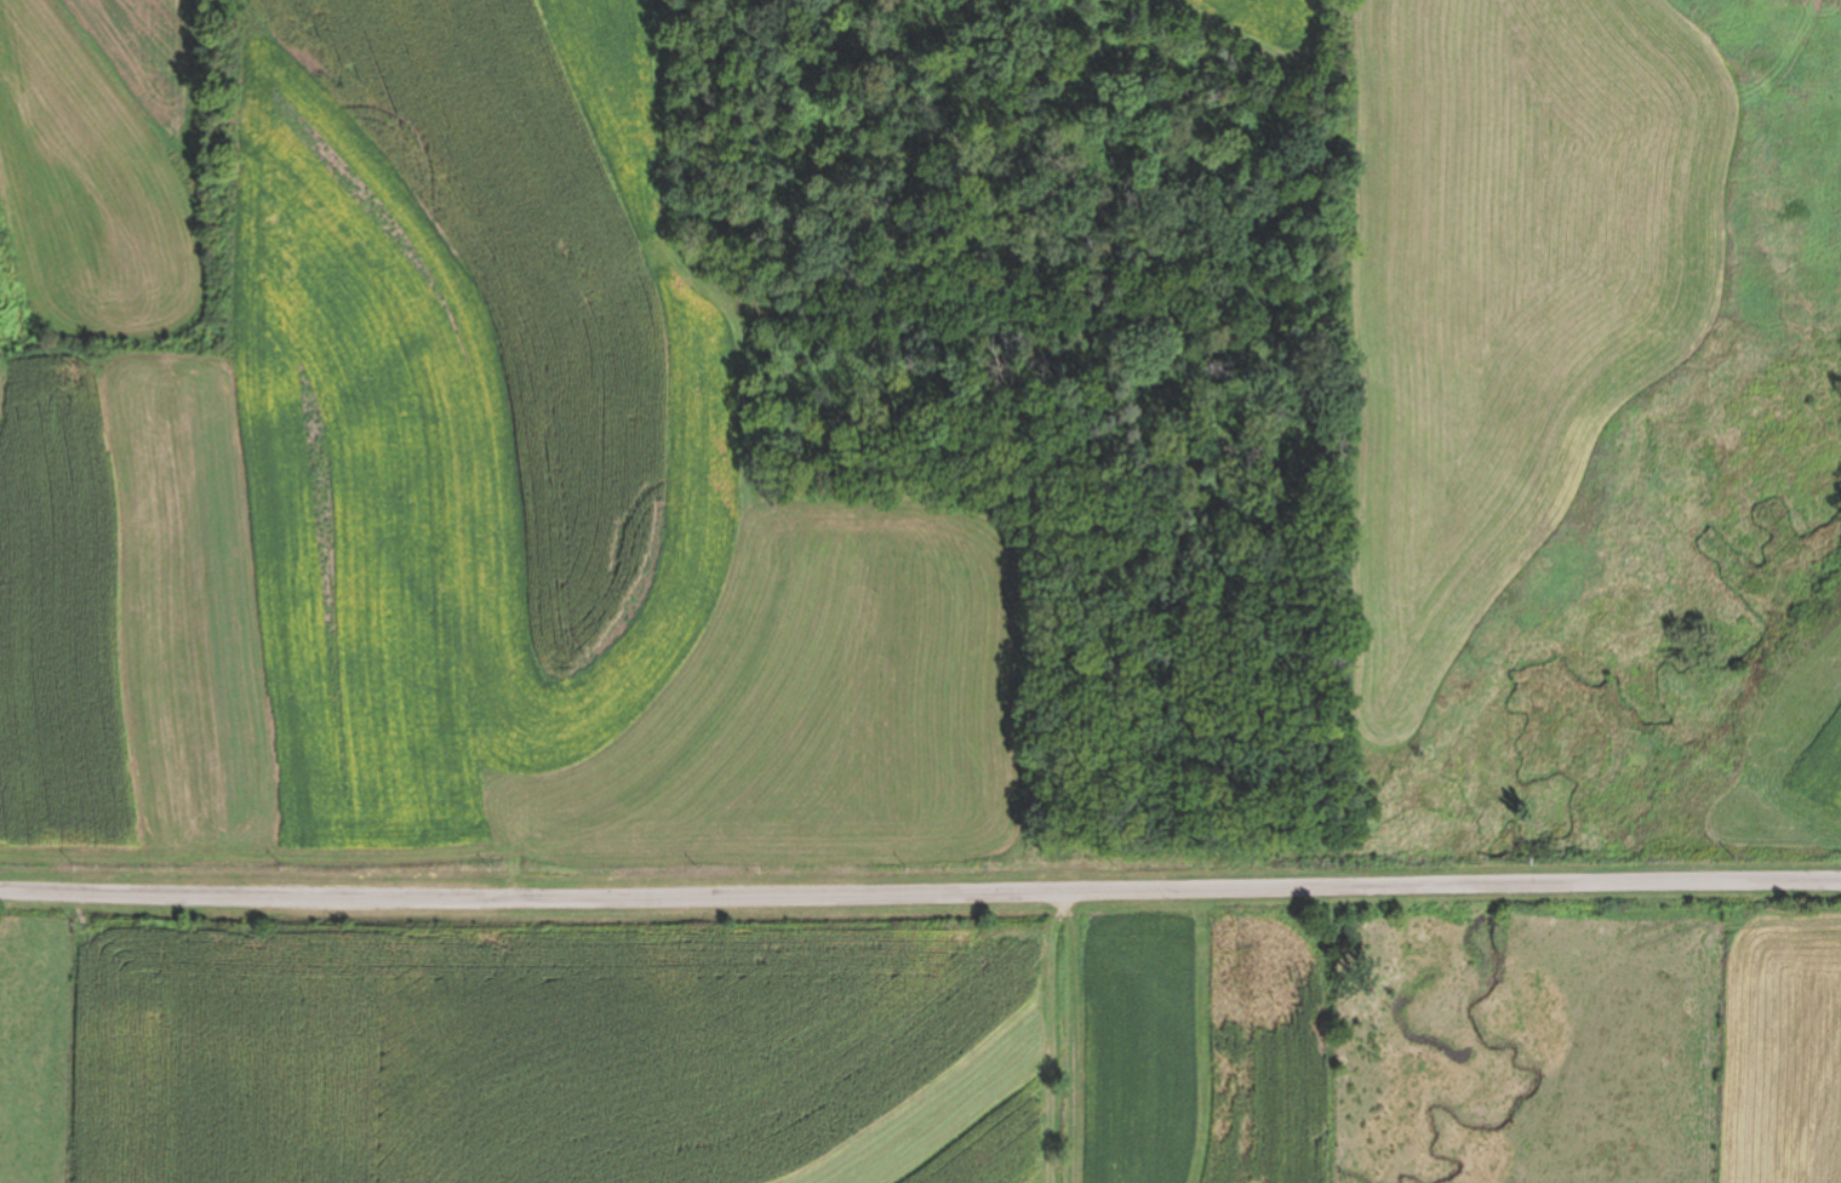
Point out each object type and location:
road: (920, 891)

